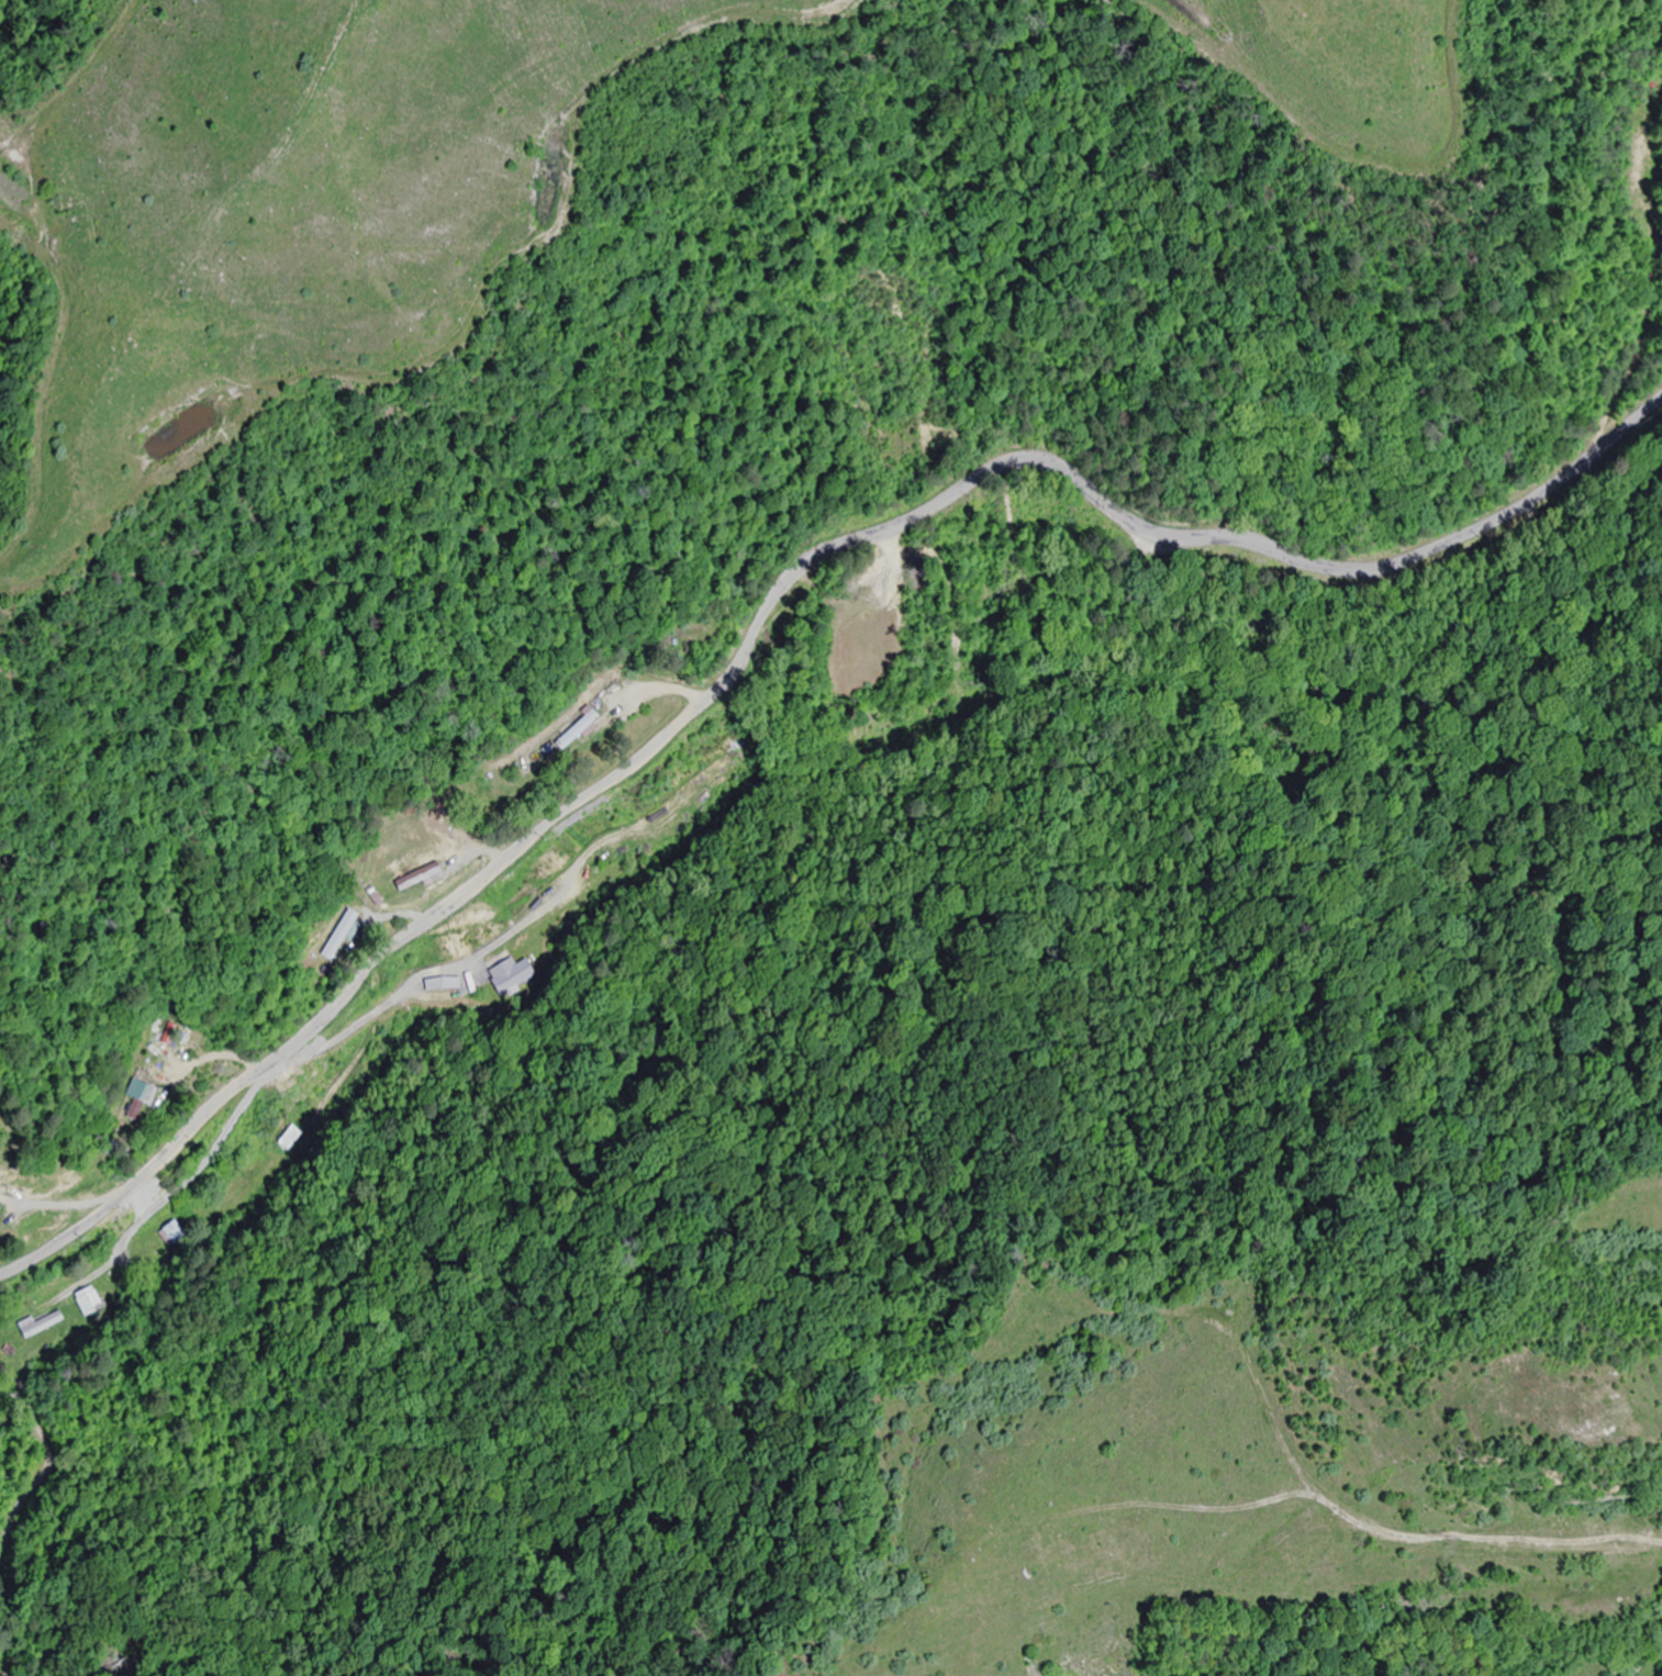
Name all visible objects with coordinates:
road: (1659, 405)
road: (777, 583)
building: (569, 727)
building: (334, 935)
building: (513, 976)
building: (439, 983)
building: (132, 1098)
building: (291, 1138)
building: (174, 1231)
building: (90, 1300)
building: (37, 1323)

